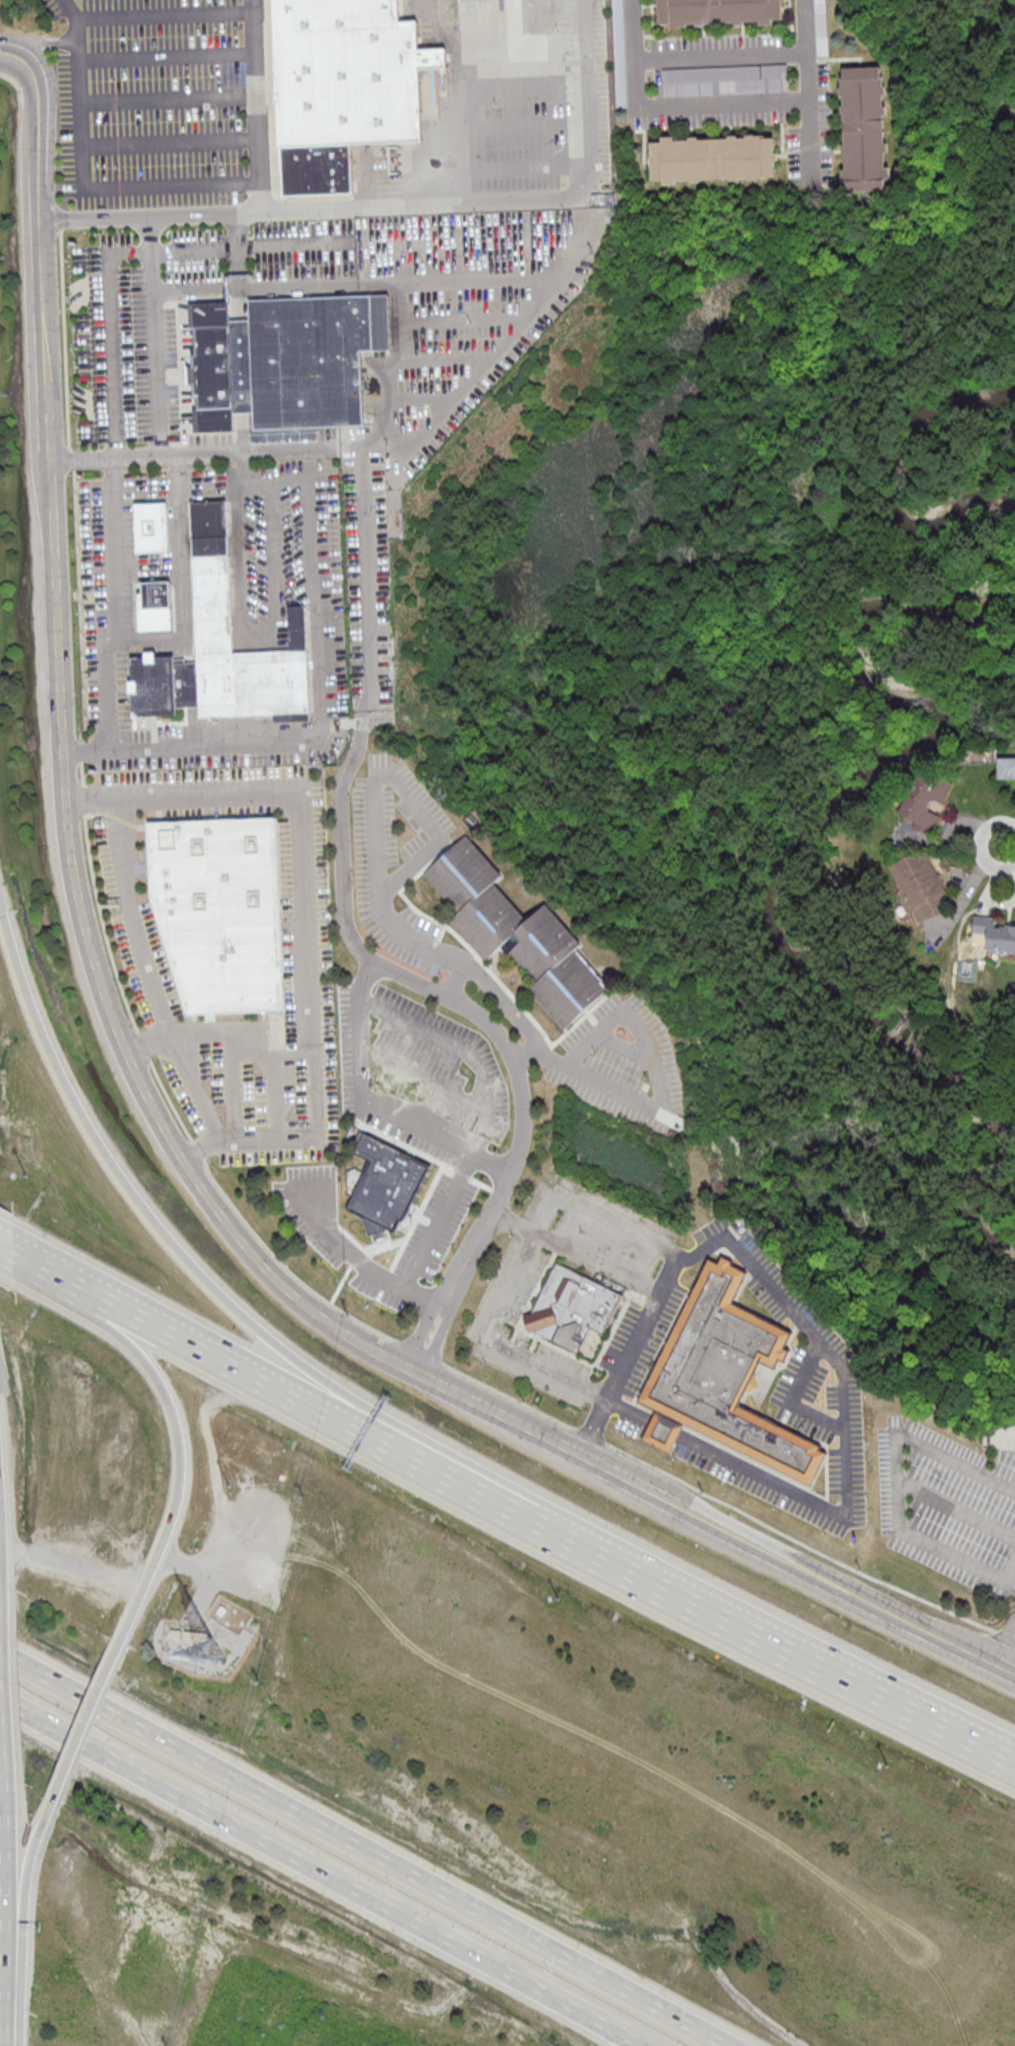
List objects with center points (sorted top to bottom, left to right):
building: (720, 12)
road: (164, 17)
road: (71, 19)
building: (822, 28)
road: (535, 38)
road: (35, 41)
river: (966, 49)
road: (169, 55)
road: (636, 60)
building: (349, 71)
road: (808, 74)
building: (726, 81)
road: (465, 86)
road: (171, 100)
road: (259, 105)
road: (39, 127)
building: (864, 133)
road: (173, 143)
building: (713, 161)
building: (317, 168)
road: (101, 184)
road: (309, 209)
road: (390, 243)
road: (387, 283)
road: (197, 290)
road: (111, 294)
road: (472, 318)
road: (156, 337)
road: (452, 356)
building: (282, 362)
road: (388, 369)
road: (436, 393)
road: (221, 453)
road: (319, 467)
river: (894, 469)
building: (151, 526)
road: (180, 578)
building: (156, 604)
road: (114, 623)
building: (223, 647)
road: (360, 655)
road: (317, 668)
river: (927, 688)
building: (1006, 767)
building: (925, 802)
road: (374, 819)
road: (983, 845)
building: (921, 885)
building: (221, 910)
road: (310, 915)
building: (519, 931)
building: (995, 933)
road: (150, 976)
river: (842, 993)
road: (507, 998)
road: (235, 1025)
road: (666, 1094)
road: (375, 1104)
river: (987, 1172)
road: (192, 1173)
building: (386, 1186)
road: (429, 1239)
road: (8, 1250)
road: (204, 1276)
road: (63, 1278)
road: (659, 1290)
building: (573, 1307)
road: (429, 1338)
road: (491, 1344)
building: (723, 1377)
road: (793, 1400)
road: (845, 1405)
road: (627, 1413)
road: (330, 1414)
road: (664, 1431)
road: (181, 1467)
road: (900, 1479)
road: (206, 1575)
building: (176, 1632)
building: (195, 1634)
road: (993, 1641)
road: (780, 1648)
road: (2, 1721)
road: (87, 1721)
road: (363, 1848)
road: (322, 1871)
road: (5, 1878)
road: (24, 1899)
road: (6, 1992)
road: (6, 2022)
road: (11, 2024)

